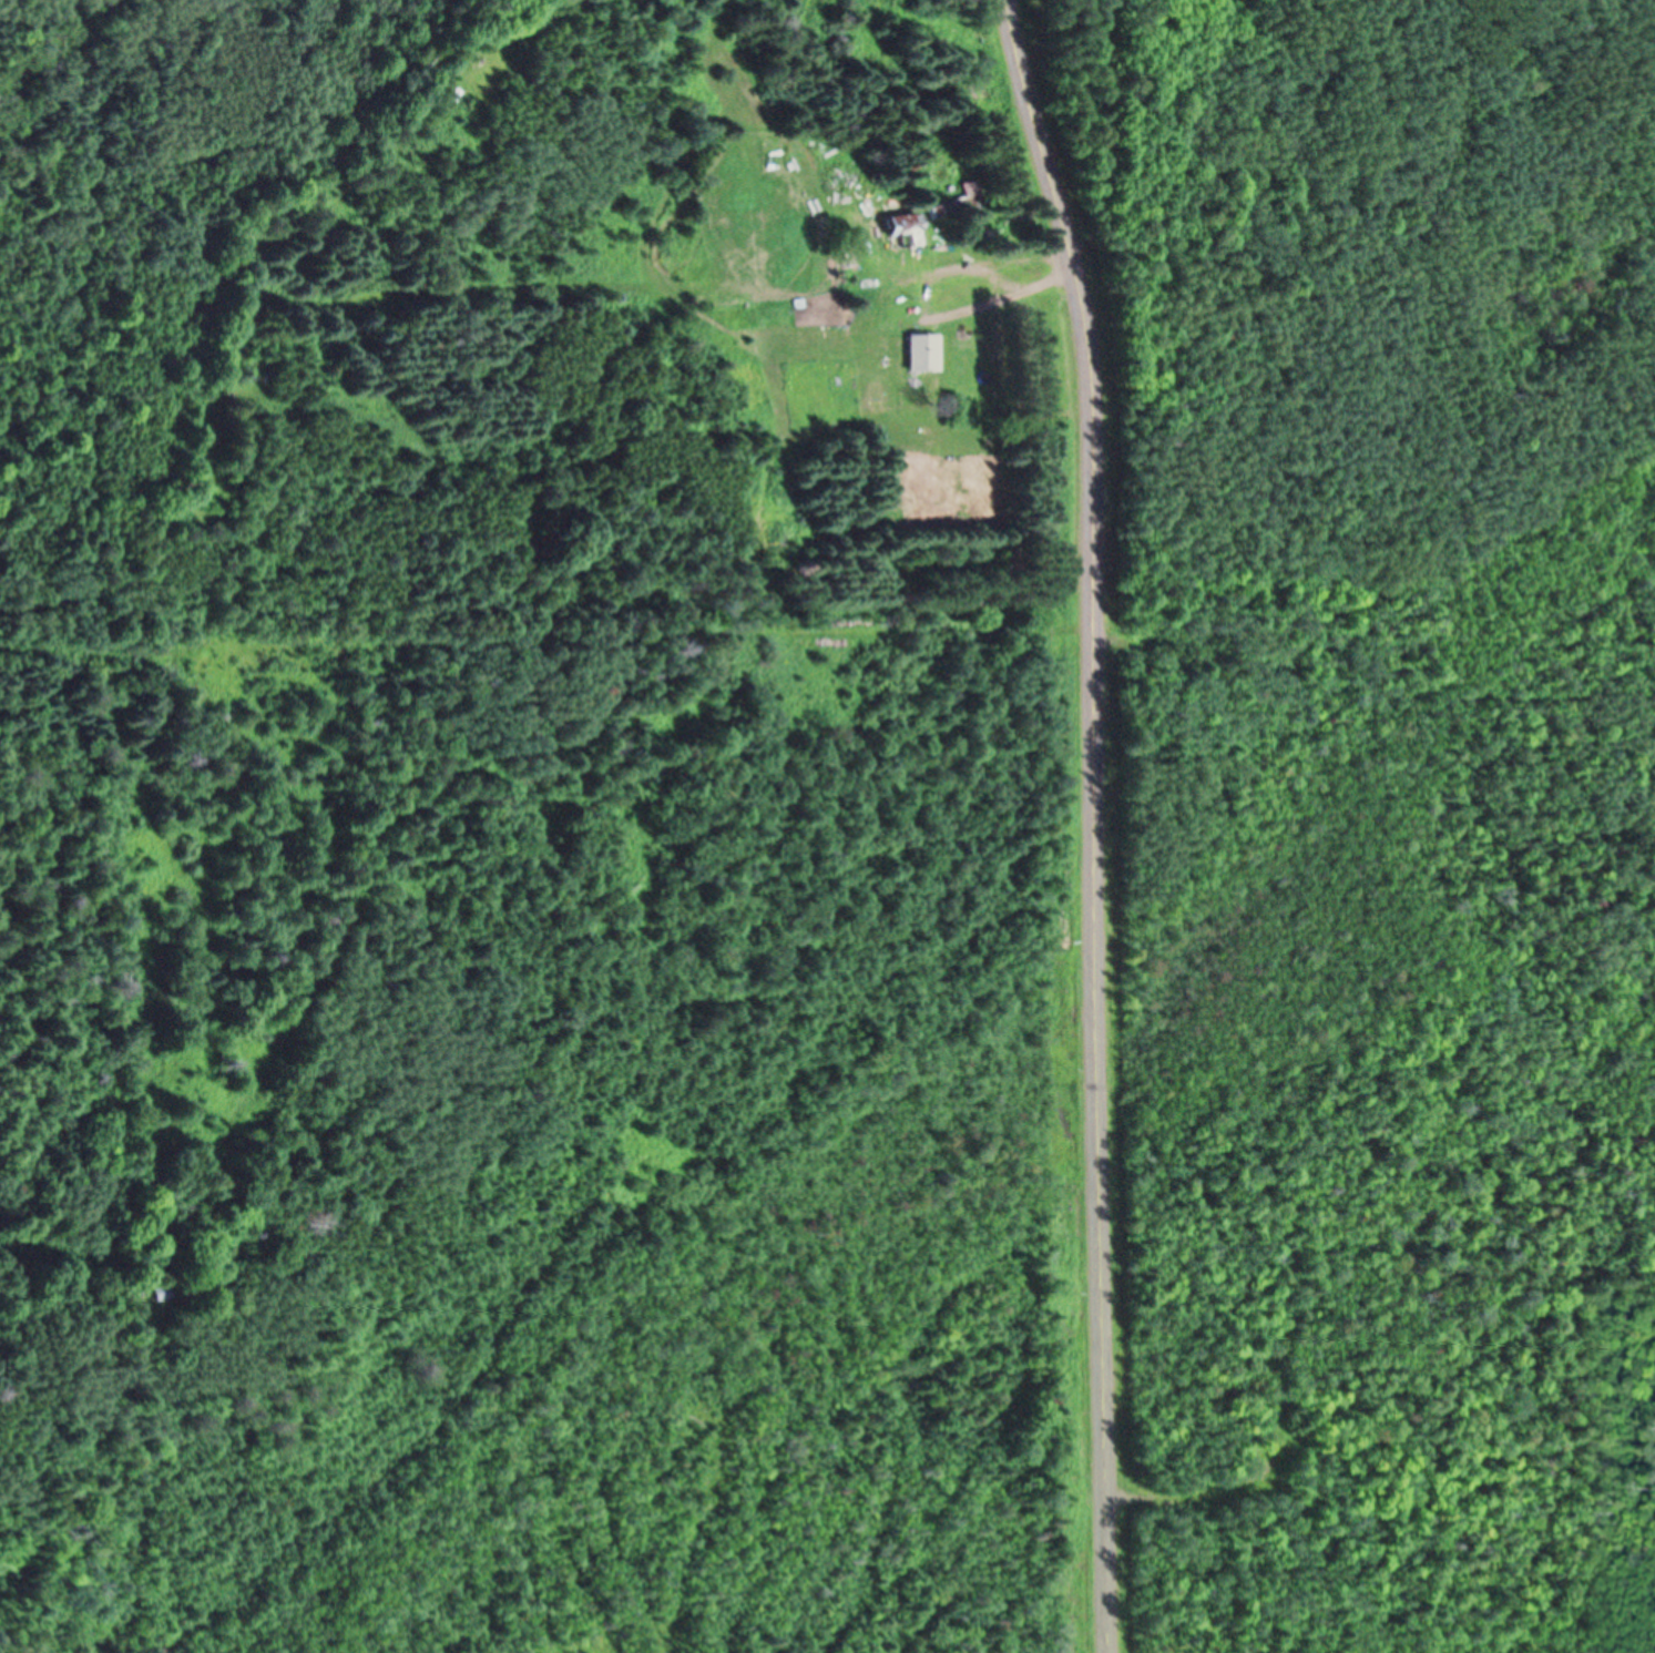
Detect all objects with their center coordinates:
building: (967, 202)
building: (902, 232)
building: (926, 356)
road: (1101, 820)
building: (163, 1296)

